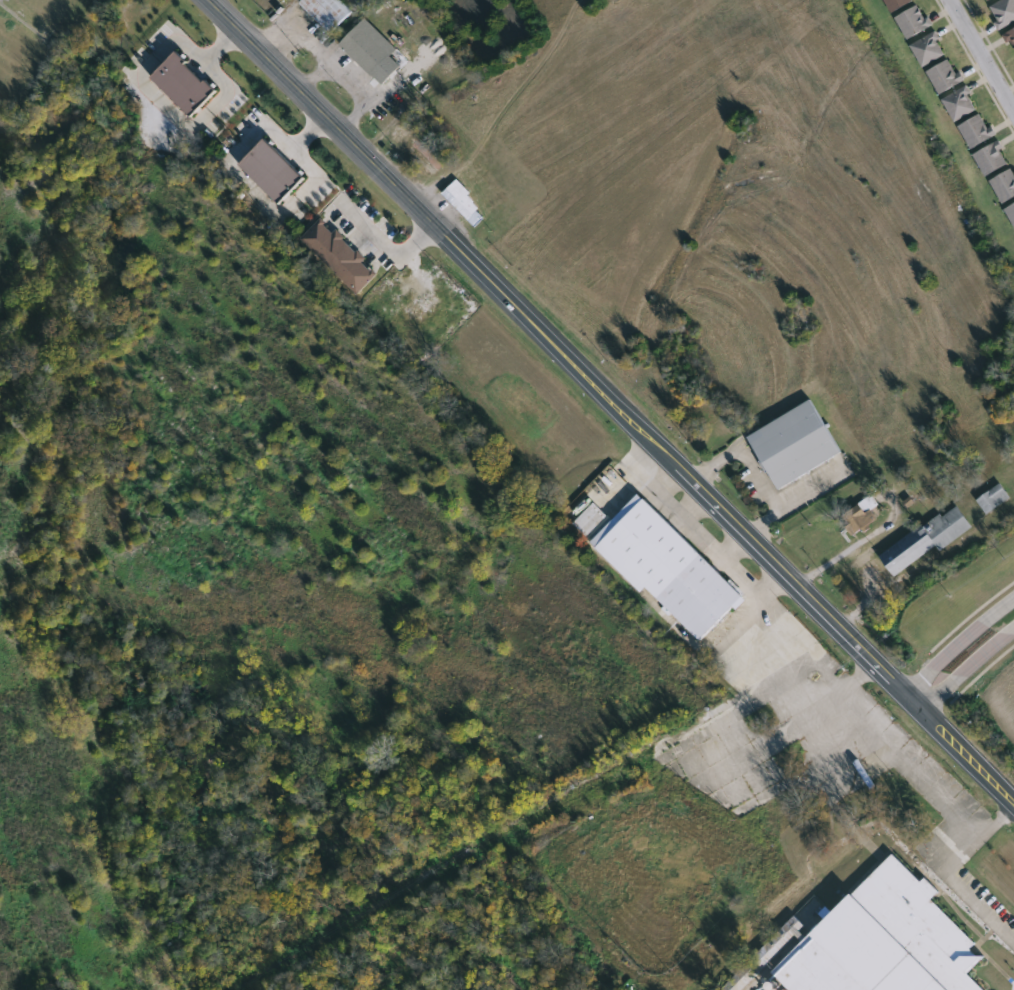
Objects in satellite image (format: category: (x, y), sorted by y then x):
building: (993, 0)
building: (897, 4)
building: (329, 13)
building: (1004, 13)
building: (914, 23)
building: (1011, 38)
building: (366, 45)
building: (928, 50)
road: (980, 56)
building: (945, 77)
building: (182, 83)
building: (960, 105)
building: (976, 132)
building: (992, 159)
building: (268, 170)
building: (1005, 186)
building: (461, 202)
building: (1011, 213)
building: (336, 254)
road: (608, 399)
building: (793, 441)
road: (752, 471)
parking lot: (809, 485)
road: (810, 489)
building: (996, 498)
building: (926, 540)
building: (666, 565)
road: (957, 642)
road: (966, 667)
parking lot: (778, 715)
road: (910, 758)
road: (960, 880)
parking lot: (981, 903)
building: (882, 940)

